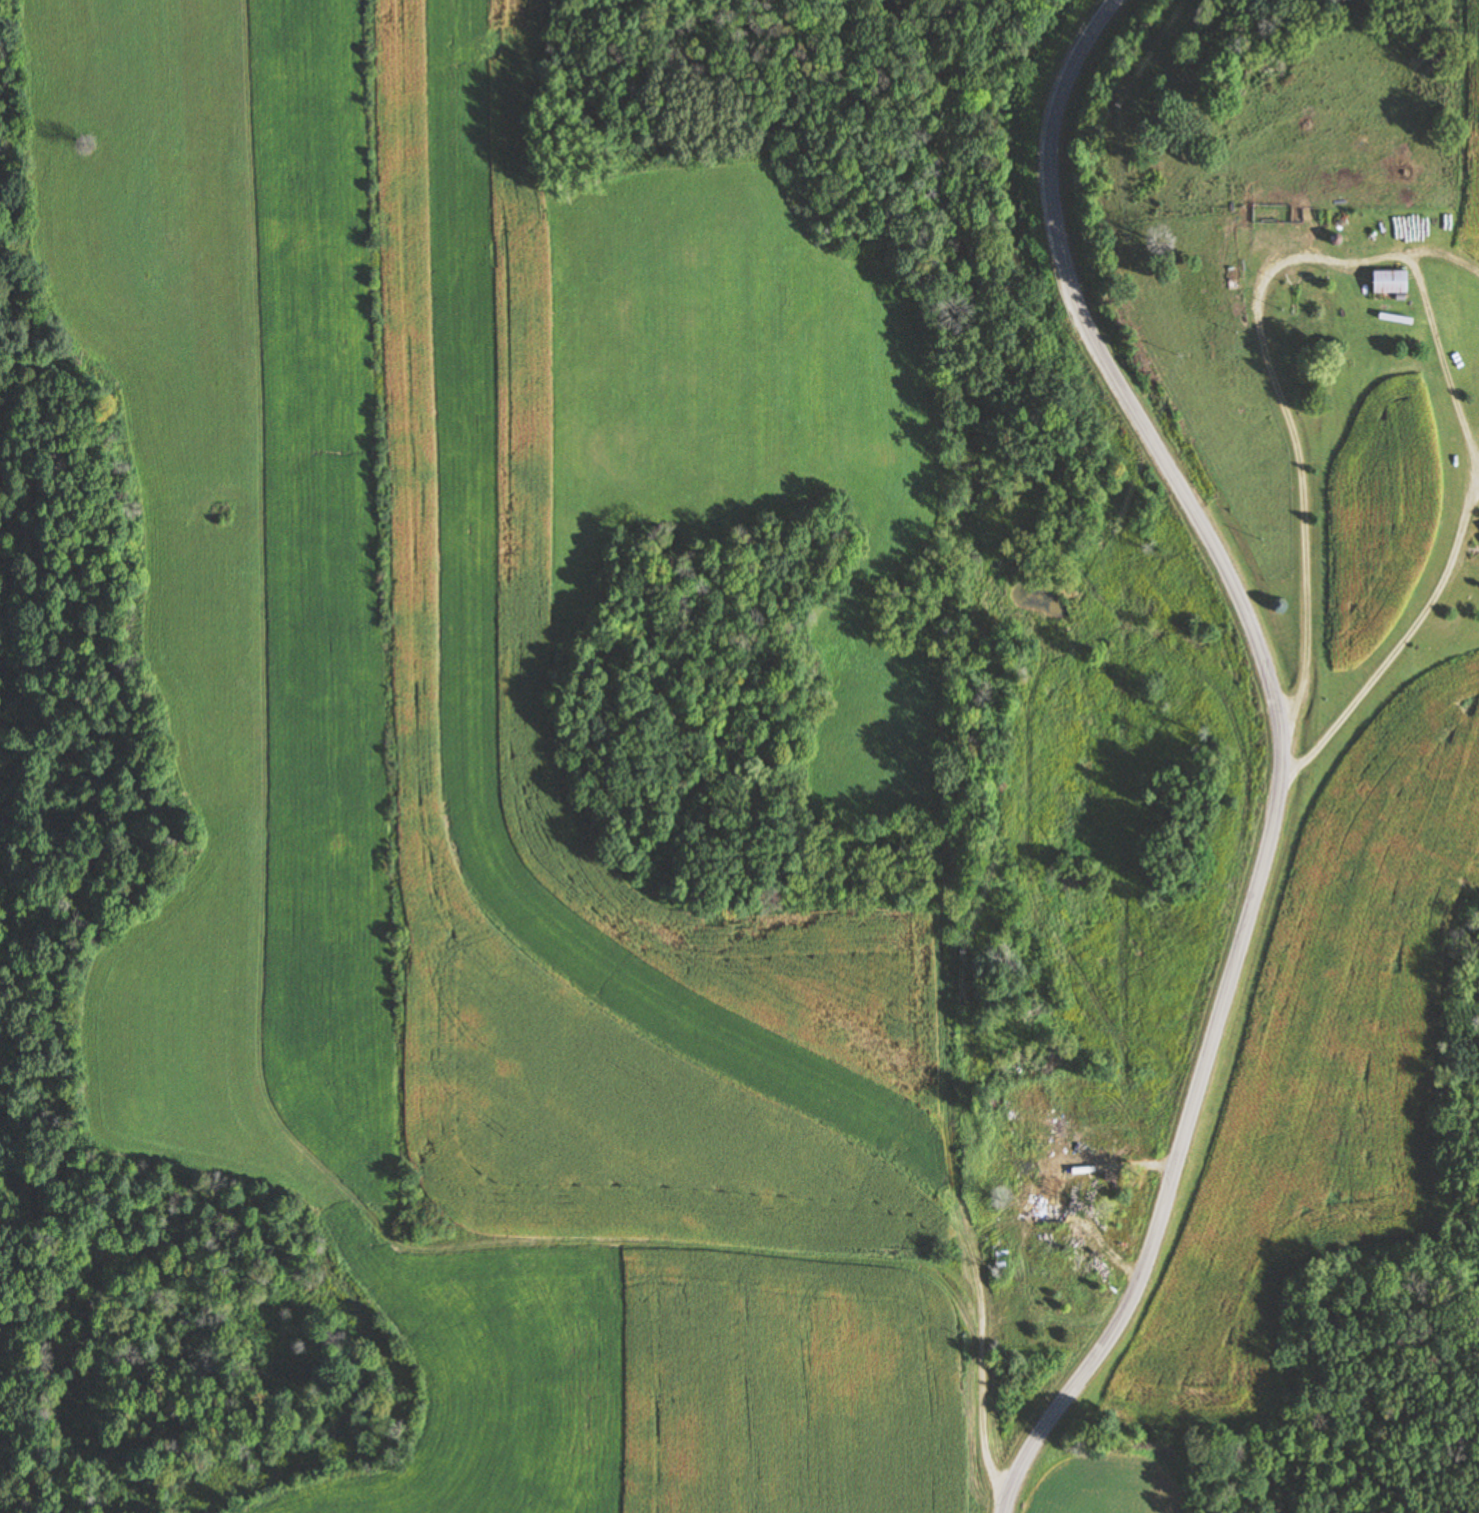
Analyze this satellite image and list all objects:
building: (1393, 281)
road: (1327, 516)
road: (1275, 750)
building: (1024, 1166)
building: (1051, 1214)

